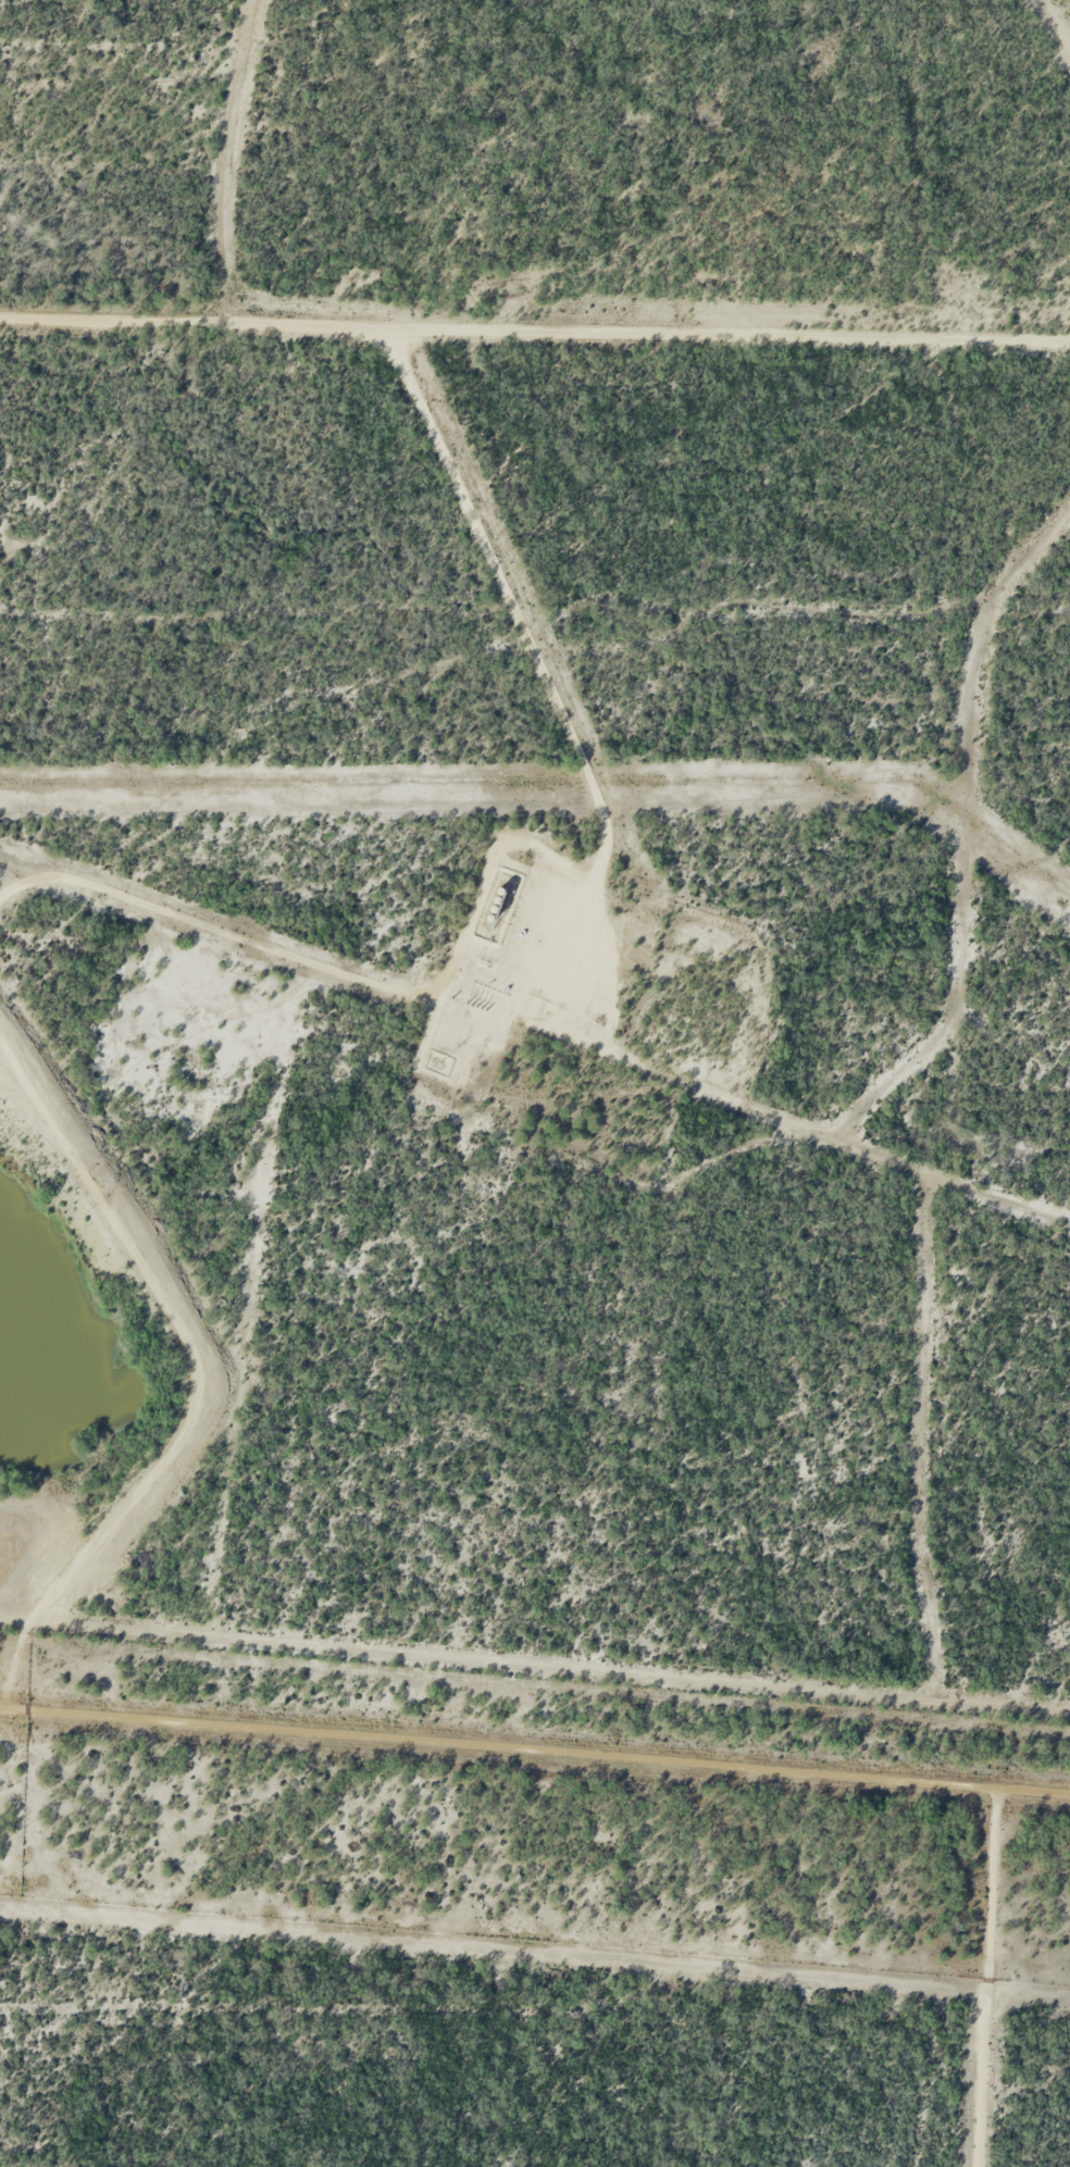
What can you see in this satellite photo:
road: (535, 1748)

